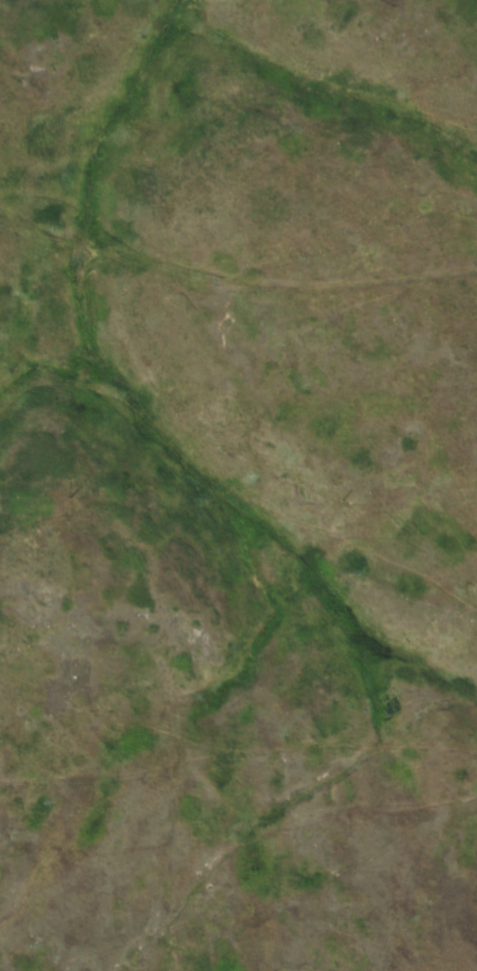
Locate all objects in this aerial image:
road: (232, 285)

